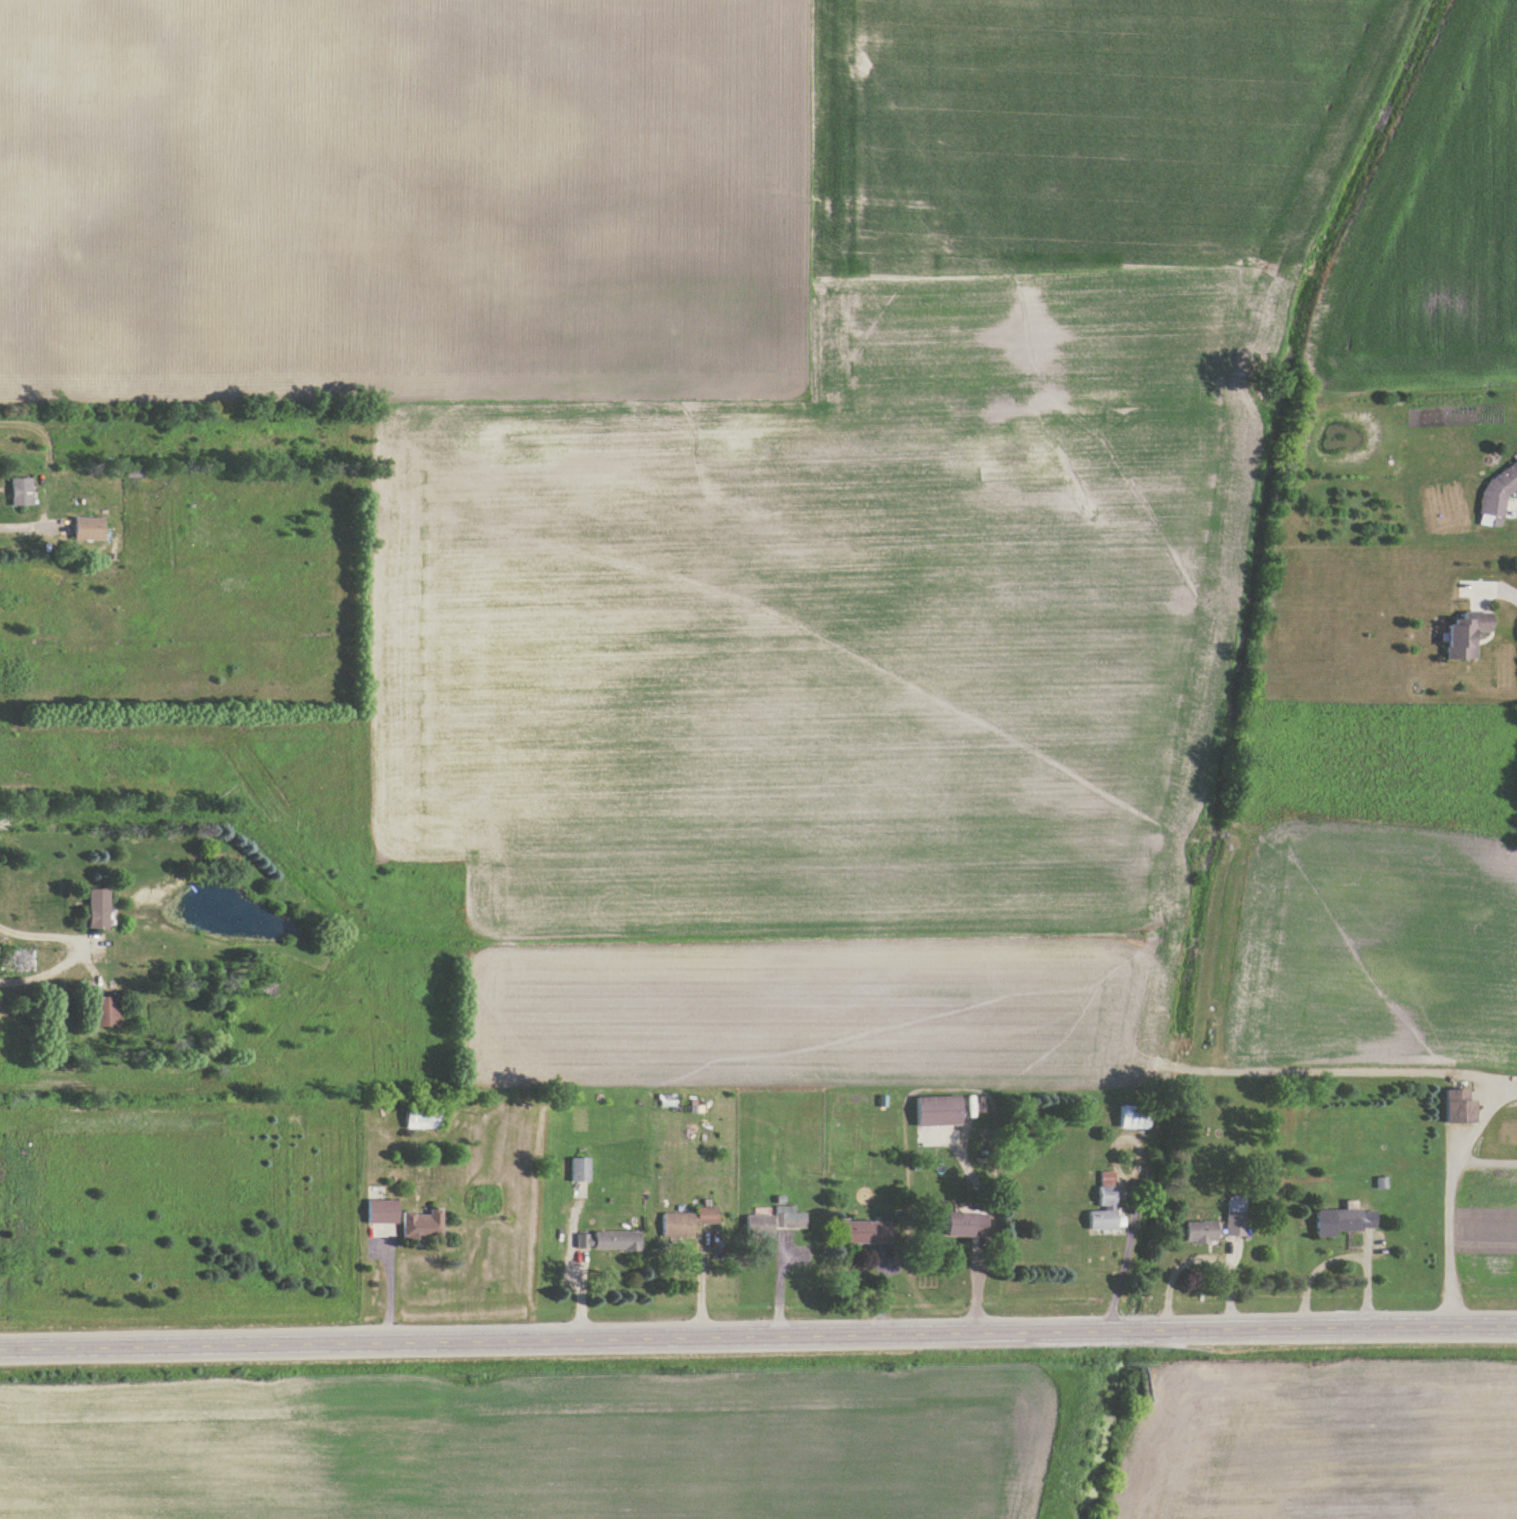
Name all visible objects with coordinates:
building: (23, 491)
building: (1500, 492)
road: (15, 520)
building: (91, 528)
road: (1498, 587)
building: (1470, 633)
building: (101, 908)
road: (58, 945)
building: (24, 960)
building: (108, 1011)
building: (1463, 1107)
building: (426, 1115)
building: (1137, 1117)
building: (940, 1119)
building: (582, 1169)
road: (1432, 1184)
building: (1107, 1191)
building: (382, 1213)
building: (775, 1223)
building: (1102, 1223)
building: (1235, 1223)
building: (1345, 1223)
building: (687, 1224)
building: (423, 1226)
building: (966, 1226)
building: (867, 1235)
building: (1201, 1235)
building: (608, 1244)
road: (1115, 1277)
road: (387, 1286)
road: (758, 1336)

